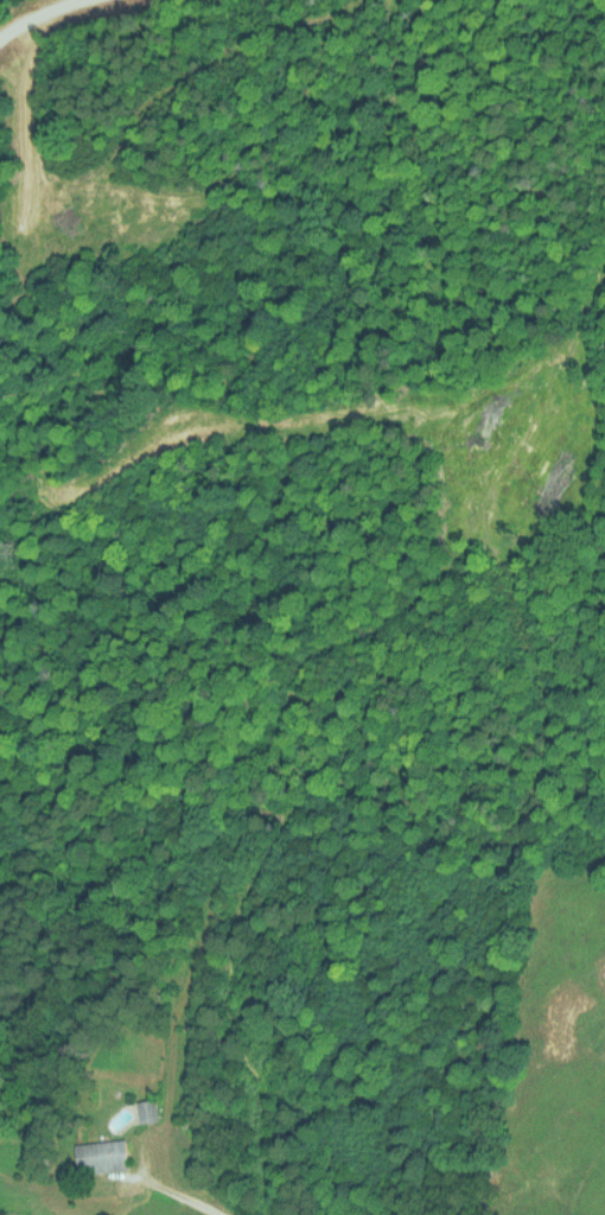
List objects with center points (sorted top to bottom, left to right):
building: (146, 1109)
building: (101, 1154)
road: (181, 1194)

